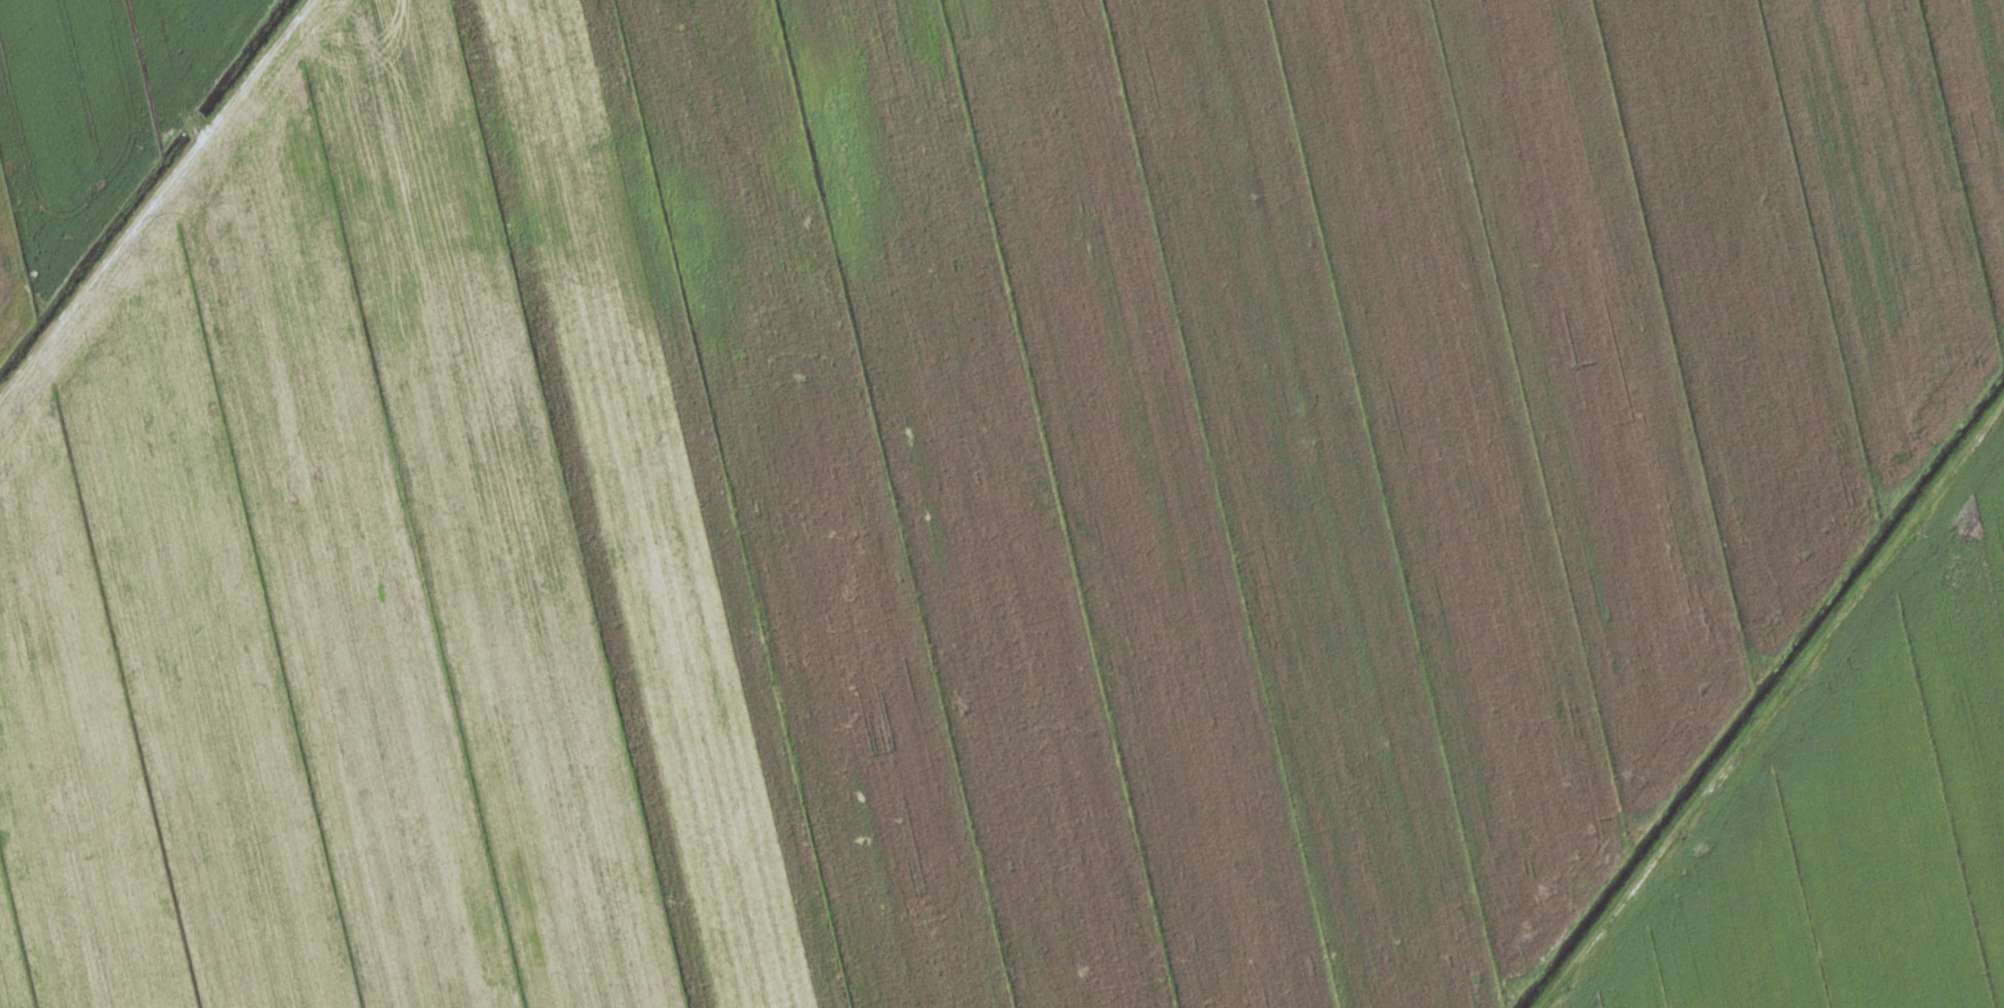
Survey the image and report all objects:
crop: (89, 118)
crop: (958, 491)
road: (1770, 702)
crop: (1851, 809)

